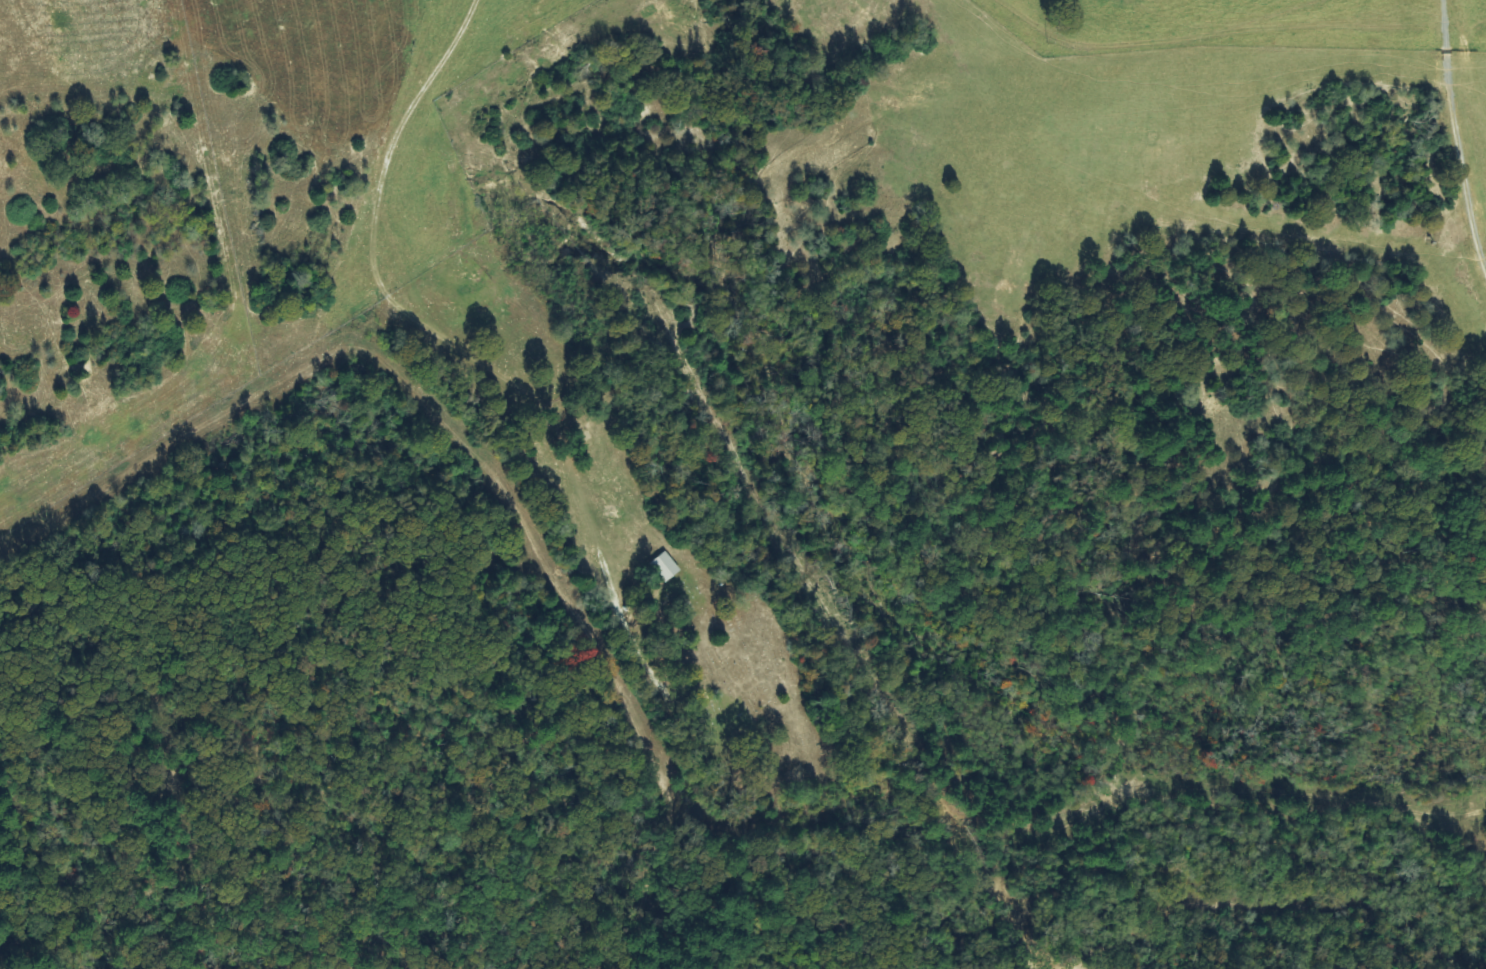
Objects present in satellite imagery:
road: (1030, 22)
road: (1158, 30)
road: (171, 312)
road: (407, 315)
building: (665, 566)
park: (739, 687)

